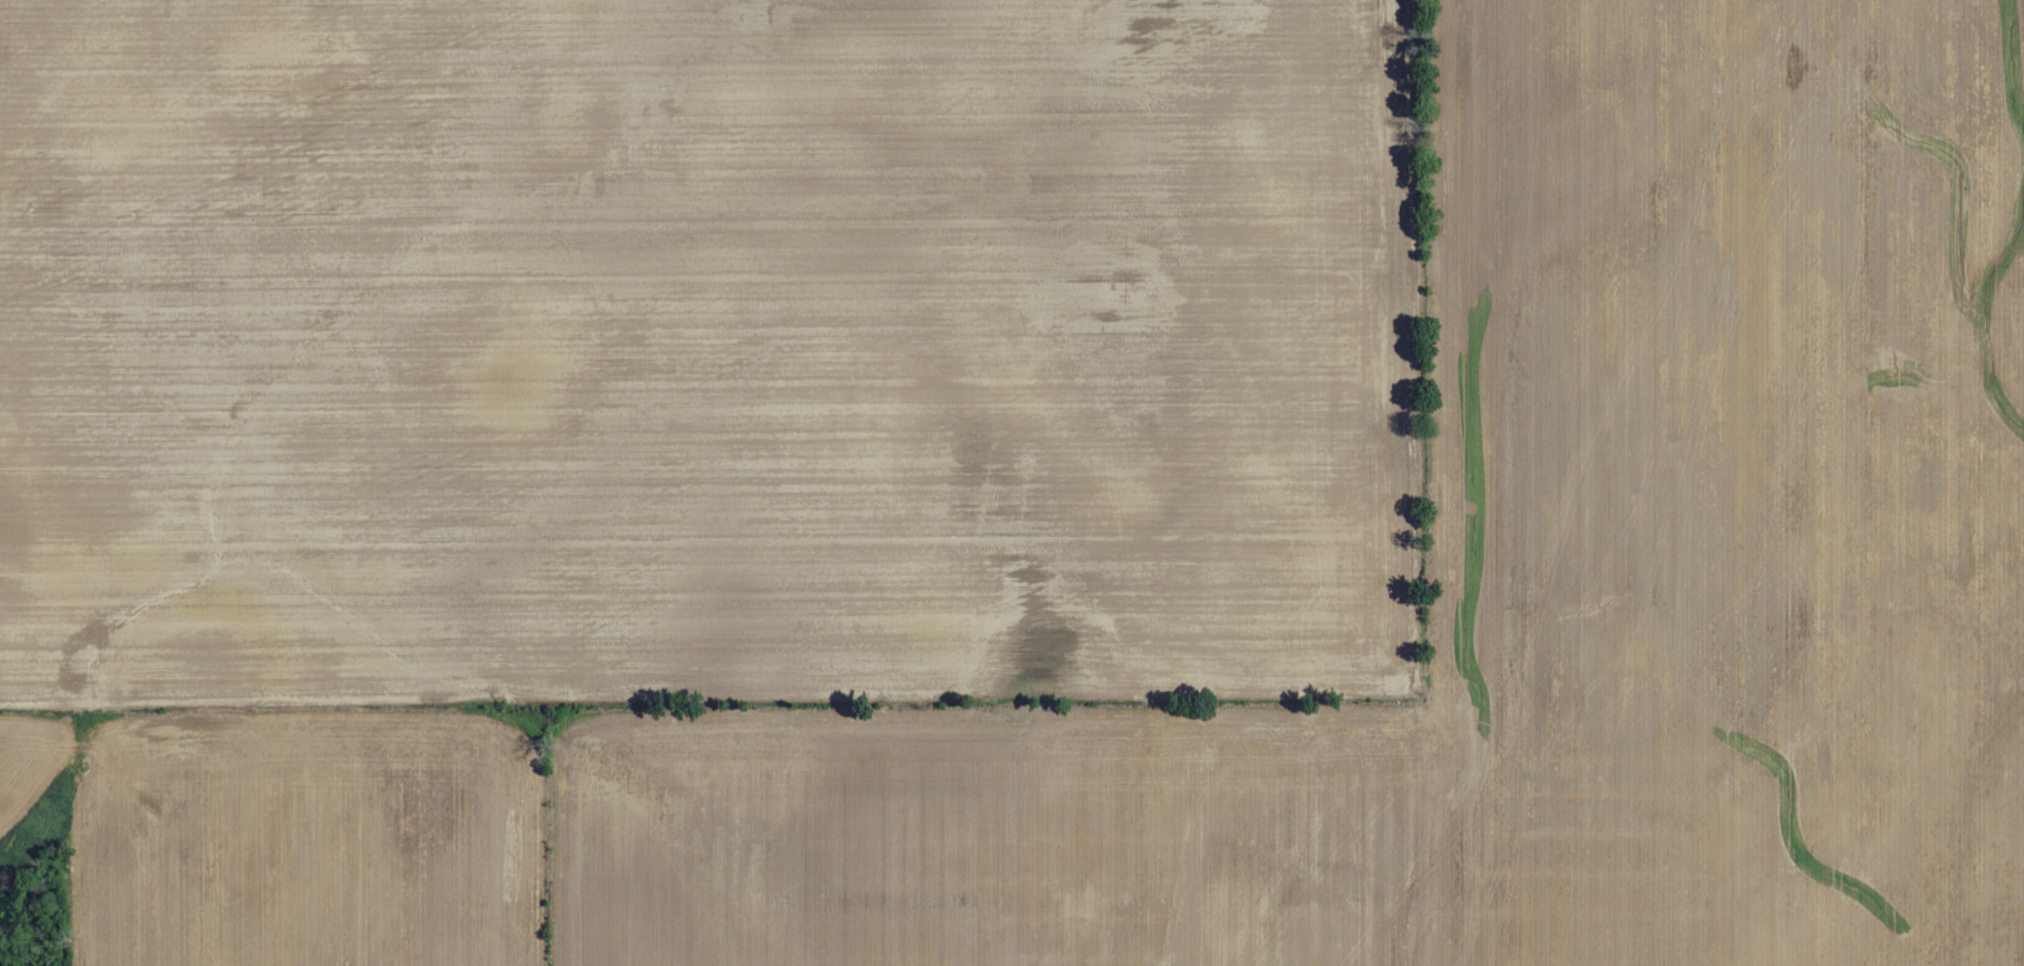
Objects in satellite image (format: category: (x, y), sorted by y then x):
crop: (711, 353)
crop: (1726, 487)

